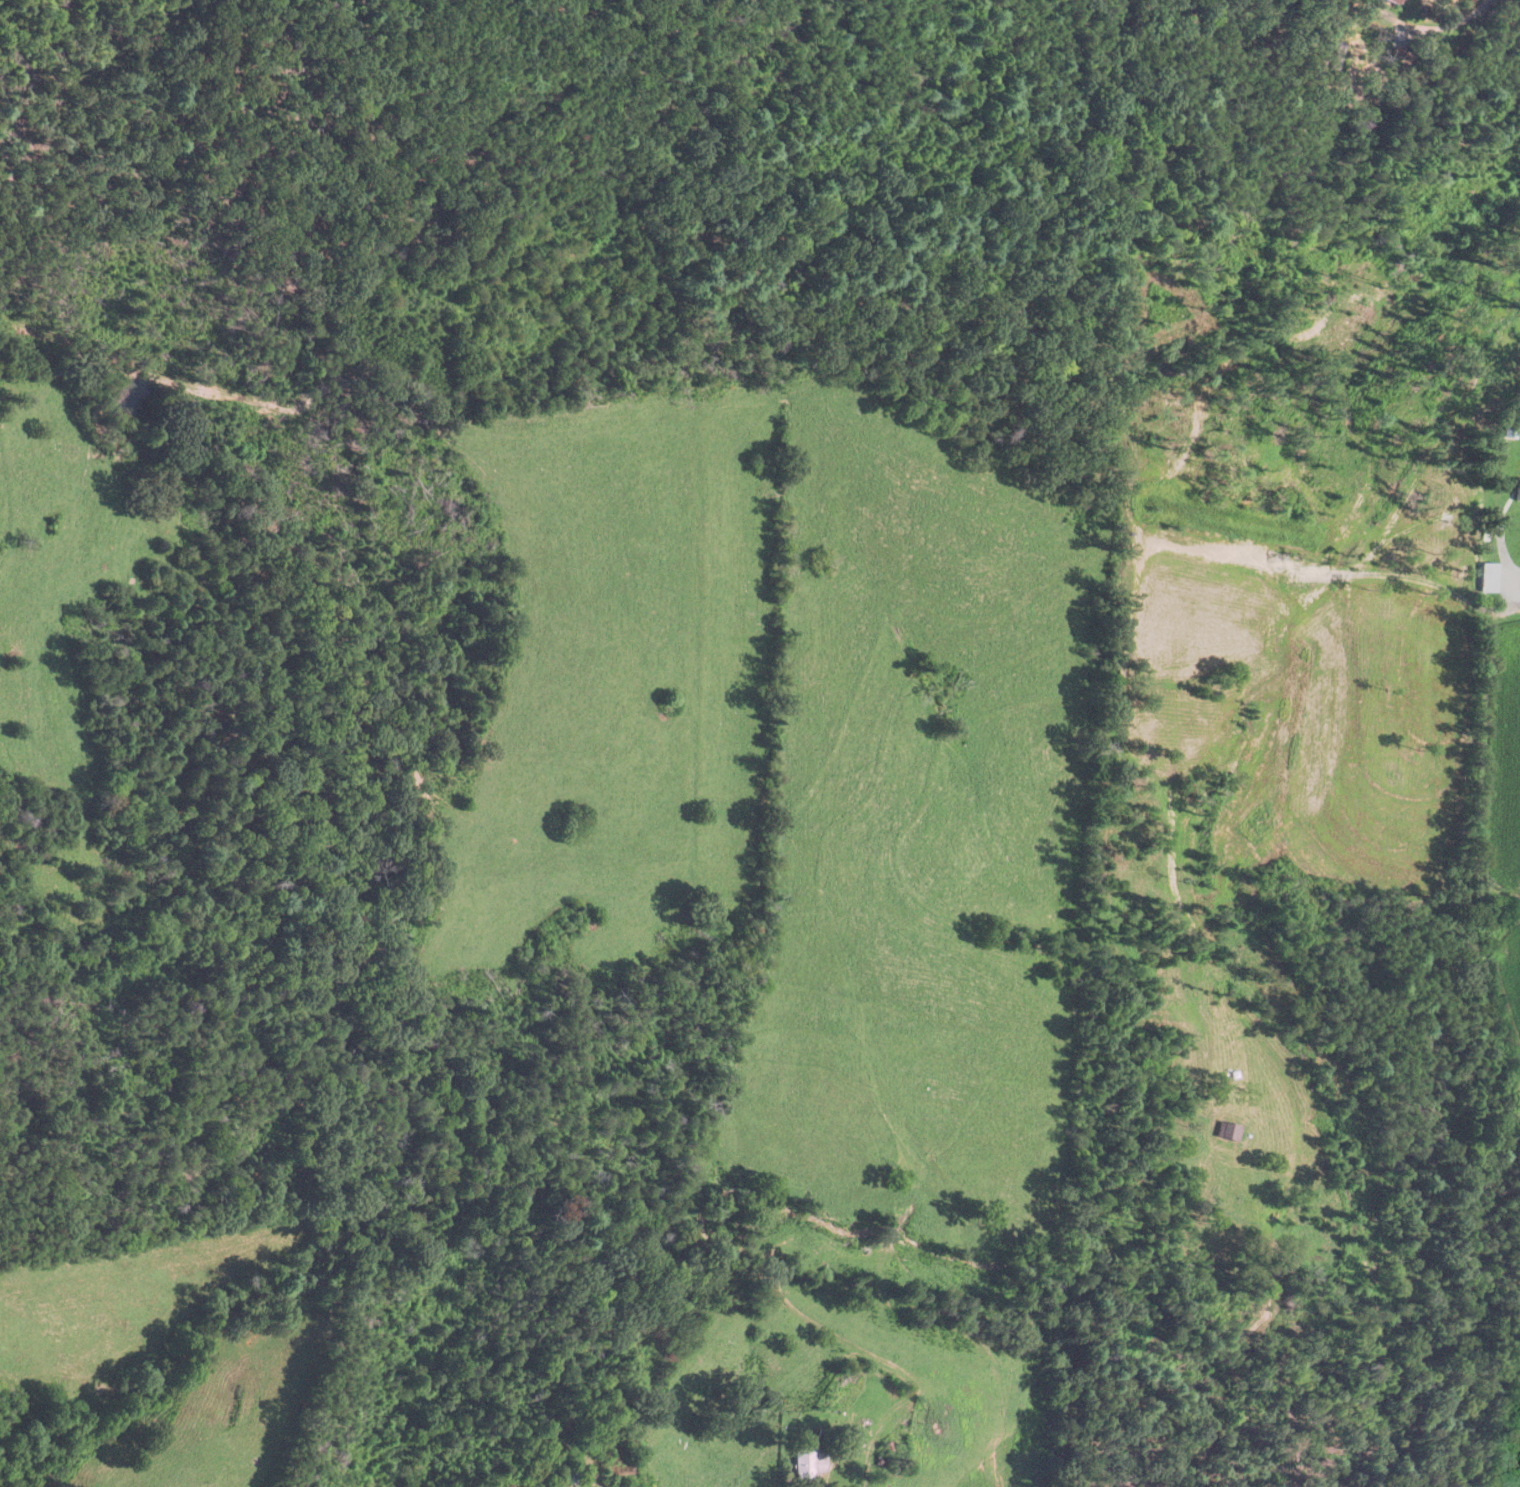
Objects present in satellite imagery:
building: (1393, 1)
building: (1511, 427)
building: (1517, 491)
road: (1499, 548)
building: (1489, 579)
building: (1229, 1131)
road: (811, 1321)
building: (907, 1424)
building: (809, 1462)

